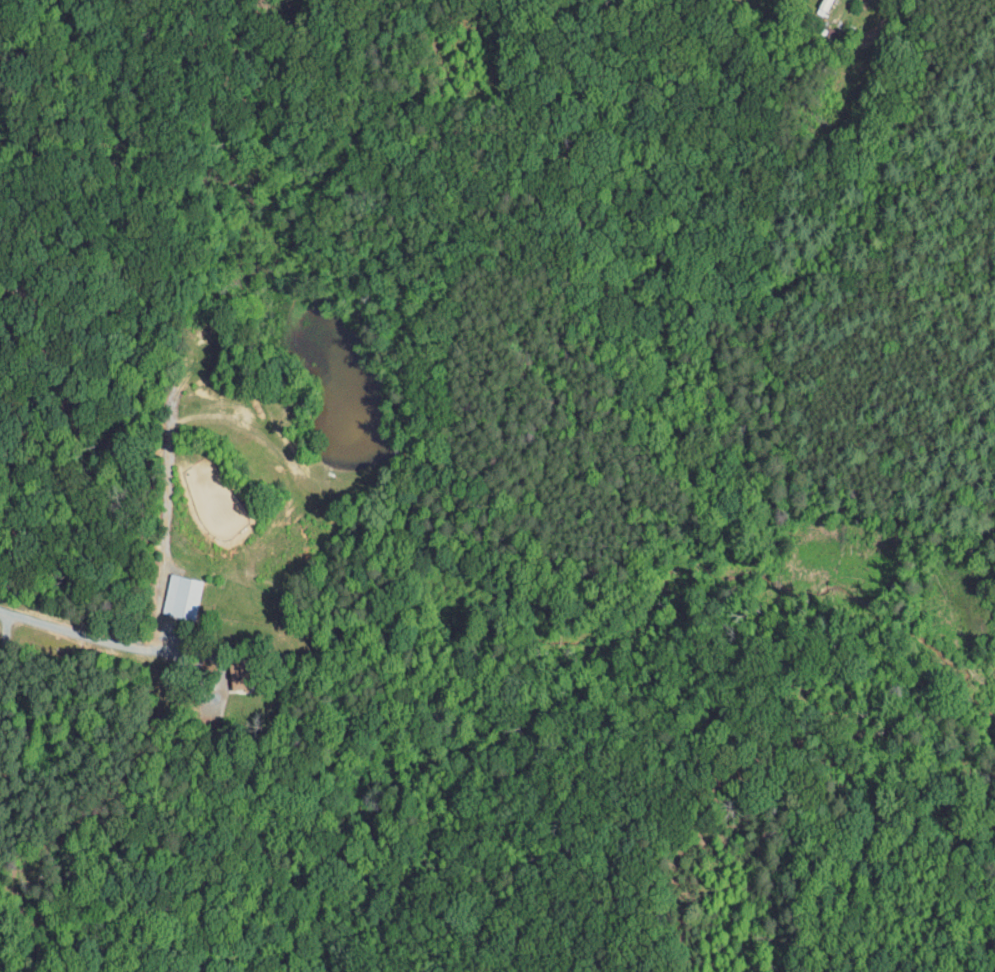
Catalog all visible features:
building: (810, 4)
building: (169, 591)
road: (7, 635)
road: (98, 637)
building: (227, 669)

